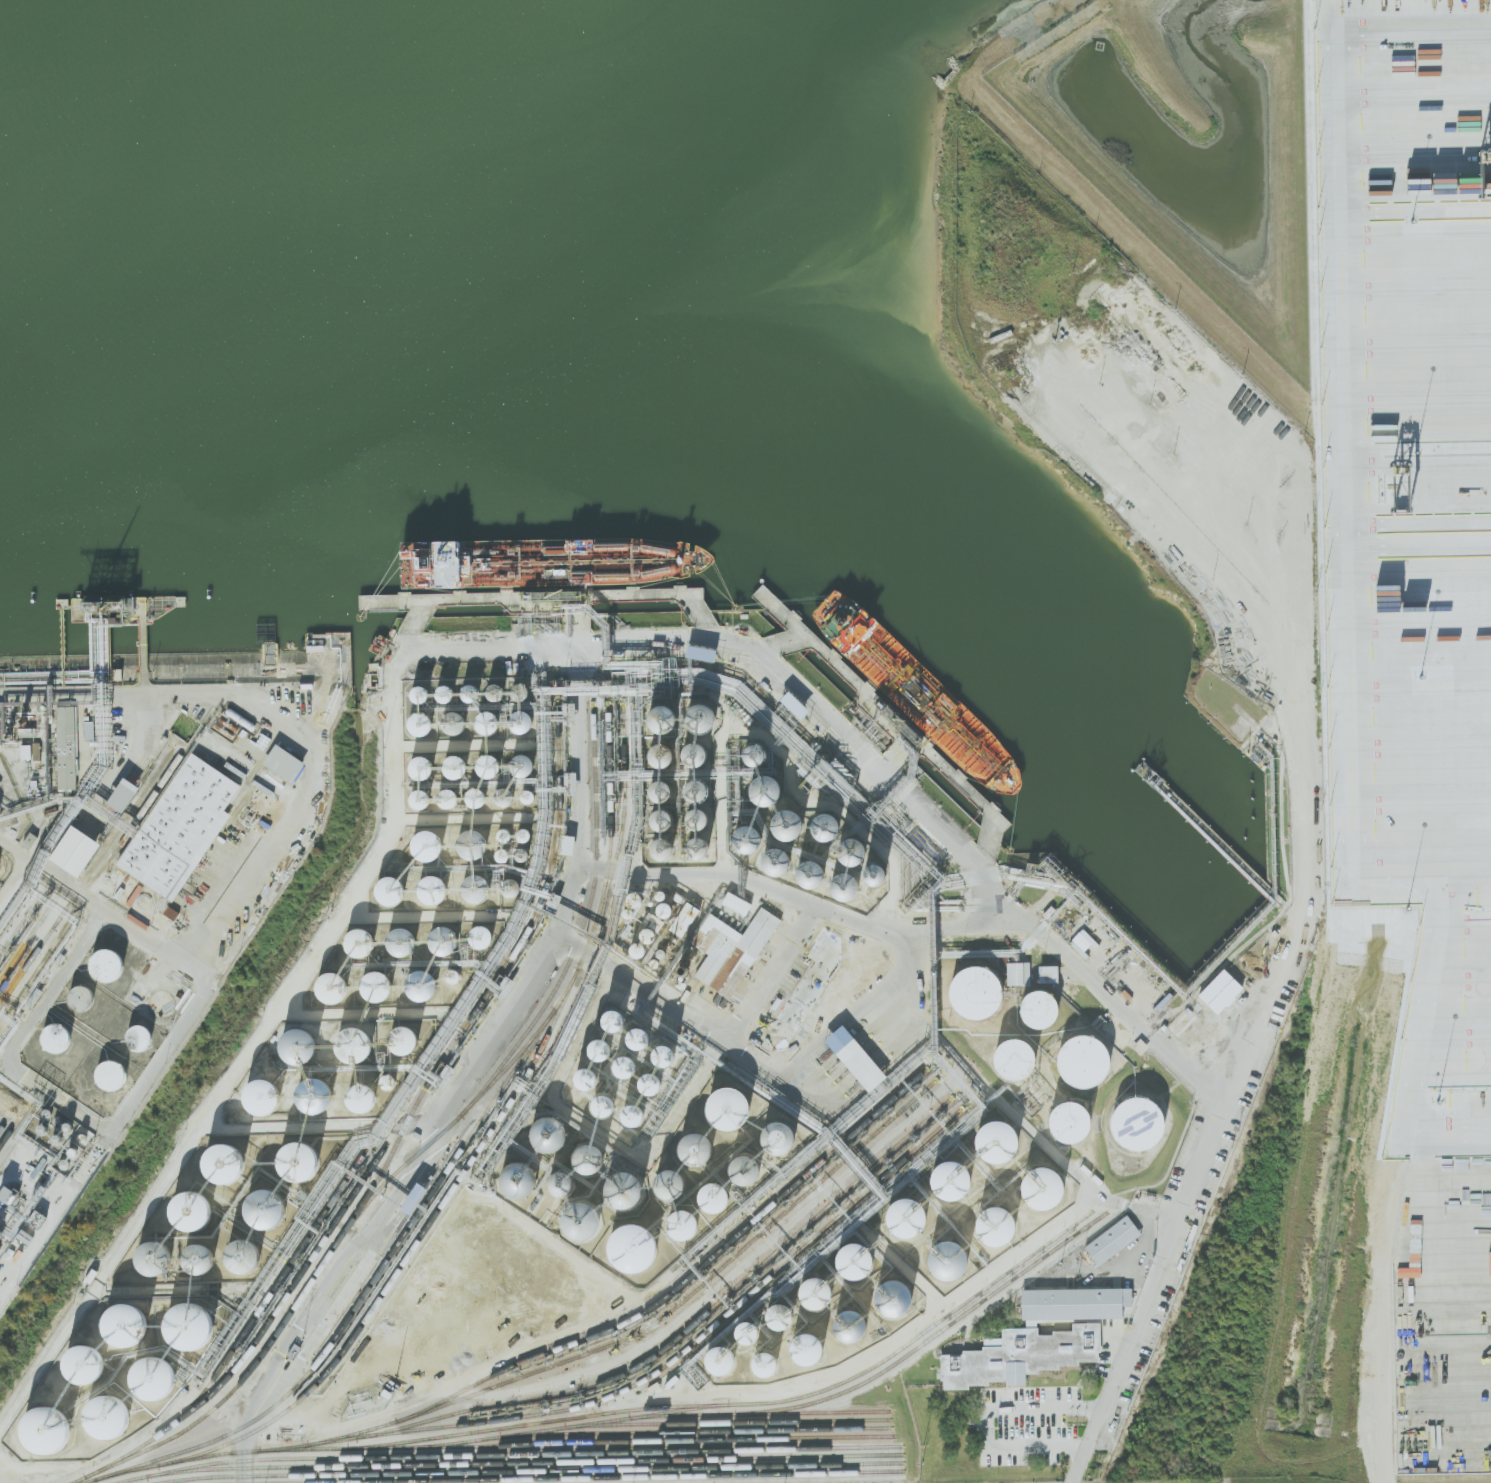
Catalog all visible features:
road: (1342, 531)
road: (406, 653)
building: (701, 653)
building: (524, 689)
storage tank: (524, 689)
building: (449, 690)
storage tank: (449, 690)
building: (474, 690)
storage tank: (474, 690)
building: (499, 690)
storage tank: (499, 690)
building: (423, 691)
storage tank: (423, 691)
building: (794, 705)
building: (708, 713)
storage tank: (708, 713)
building: (668, 714)
storage tank: (668, 714)
building: (524, 718)
storage tank: (524, 718)
building: (492, 719)
storage tank: (492, 719)
building: (458, 720)
storage tank: (458, 720)
building: (424, 721)
storage tank: (424, 721)
building: (0, 728)
building: (69, 747)
building: (667, 749)
storage tank: (667, 749)
building: (701, 749)
storage tank: (701, 749)
building: (748, 749)
storage tank: (748, 749)
building: (26, 752)
building: (284, 763)
building: (424, 763)
storage tank: (424, 763)
building: (458, 763)
storage tank: (458, 763)
building: (493, 763)
storage tank: (493, 763)
building: (526, 763)
storage tank: (526, 763)
building: (702, 785)
storage tank: (702, 785)
building: (757, 785)
storage tank: (757, 785)
building: (666, 786)
storage tank: (666, 786)
building: (126, 793)
building: (451, 795)
storage tank: (451, 795)
building: (507, 795)
storage tank: (507, 795)
building: (531, 795)
storage tank: (531, 795)
building: (423, 796)
storage tank: (423, 796)
building: (480, 796)
storage tank: (480, 796)
road: (1309, 806)
railway: (623, 813)
building: (703, 814)
storage tank: (703, 814)
building: (668, 815)
storage tank: (668, 815)
building: (779, 819)
storage tank: (779, 819)
building: (820, 822)
storage tank: (820, 822)
building: (183, 828)
building: (508, 834)
storage tank: (508, 834)
building: (528, 834)
storage tank: (528, 834)
building: (742, 835)
storage tank: (742, 835)
railway: (113, 837)
building: (29, 841)
building: (477, 842)
storage tank: (477, 842)
building: (703, 843)
storage tank: (703, 843)
building: (431, 844)
storage tank: (431, 844)
building: (667, 844)
storage tank: (667, 844)
building: (568, 845)
building: (845, 848)
storage tank: (845, 848)
building: (79, 850)
building: (526, 853)
storage tank: (526, 853)
building: (506, 854)
storage tank: (506, 854)
building: (772, 857)
storage tank: (772, 857)
building: (800, 867)
storage tank: (800, 867)
building: (869, 870)
storage tank: (869, 870)
road: (52, 873)
road: (14, 878)
railway: (91, 879)
building: (841, 884)
storage tank: (841, 884)
building: (515, 885)
storage tank: (515, 885)
building: (480, 887)
storage tank: (480, 887)
road: (247, 888)
building: (394, 888)
storage tank: (394, 888)
building: (436, 888)
storage tank: (436, 888)
building: (638, 898)
storage tank: (638, 898)
building: (669, 908)
storage tank: (669, 908)
building: (170, 913)
railway: (23, 919)
building: (689, 919)
road: (1019, 922)
building: (652, 934)
storage tank: (652, 934)
building: (485, 936)
storage tank: (485, 936)
railway: (30, 937)
building: (405, 939)
storage tank: (405, 939)
building: (447, 939)
storage tank: (447, 939)
building: (362, 941)
storage tank: (362, 941)
building: (642, 948)
storage tank: (642, 948)
building: (734, 950)
building: (108, 964)
storage tank: (108, 964)
building: (1019, 974)
building: (814, 983)
building: (380, 984)
storage tank: (380, 984)
building: (425, 985)
storage tank: (425, 985)
building: (334, 986)
storage tank: (334, 986)
road: (50, 990)
building: (981, 990)
storage tank: (981, 990)
building: (1220, 991)
building: (84, 997)
storage tank: (84, 997)
building: (1045, 1008)
storage tank: (1045, 1008)
building: (613, 1021)
road: (713, 1032)
road: (822, 1035)
building: (142, 1036)
storage tank: (142, 1036)
building: (312, 1036)
storage tank: (312, 1036)
building: (57, 1037)
storage tank: (57, 1037)
building: (368, 1037)
storage tank: (368, 1037)
building: (638, 1039)
building: (403, 1041)
building: (295, 1042)
building: (354, 1045)
building: (599, 1050)
building: (663, 1056)
building: (1011, 1057)
storage tank: (1011, 1057)
building: (855, 1058)
building: (1090, 1060)
storage tank: (1090, 1060)
railway: (510, 1064)
building: (112, 1074)
storage tank: (112, 1074)
building: (586, 1079)
building: (649, 1084)
building: (331, 1087)
storage tank: (331, 1087)
railway: (424, 1088)
building: (278, 1089)
storage tank: (278, 1089)
building: (315, 1096)
building: (262, 1097)
building: (361, 1099)
building: (603, 1107)
building: (734, 1107)
storage tank: (734, 1107)
road: (1000, 1108)
railway: (2, 1110)
building: (632, 1116)
building: (1065, 1119)
storage tank: (1065, 1119)
railway: (6, 1121)
building: (1144, 1122)
storage tank: (1144, 1122)
railway: (10, 1131)
building: (554, 1132)
storage tank: (554, 1132)
building: (784, 1136)
storage tank: (784, 1136)
road: (1448, 1136)
building: (995, 1139)
storage tank: (995, 1139)
railway: (431, 1142)
building: (702, 1147)
storage tank: (702, 1147)
railway: (391, 1157)
building: (587, 1158)
storage tank: (587, 1158)
building: (304, 1160)
storage tank: (304, 1160)
railway: (453, 1160)
building: (231, 1163)
storage tank: (231, 1163)
building: (751, 1168)
storage tank: (751, 1168)
road: (409, 1176)
building: (959, 1178)
storage tank: (959, 1178)
building: (523, 1179)
storage tank: (523, 1179)
building: (675, 1182)
storage tank: (675, 1182)
building: (614, 1183)
storage tank: (614, 1183)
building: (563, 1185)
storage tank: (563, 1185)
building: (1050, 1186)
storage tank: (1050, 1186)
building: (719, 1196)
storage tank: (719, 1196)
building: (411, 1202)
building: (270, 1209)
storage tank: (270, 1209)
building: (196, 1211)
storage tank: (196, 1211)
building: (914, 1216)
storage tank: (914, 1216)
building: (578, 1217)
storage tank: (578, 1217)
building: (688, 1223)
storage tank: (688, 1223)
building: (1004, 1225)
storage tank: (1004, 1225)
building: (1112, 1241)
building: (638, 1246)
storage tank: (638, 1246)
building: (242, 1256)
railway: (406, 1258)
building: (152, 1259)
building: (955, 1259)
storage tank: (955, 1259)
building: (198, 1260)
building: (861, 1260)
storage tank: (861, 1260)
railway: (692, 1292)
building: (821, 1293)
storage tank: (821, 1293)
building: (900, 1296)
storage tank: (900, 1296)
building: (1075, 1304)
road: (1386, 1309)
building: (785, 1316)
storage tank: (785, 1316)
building: (1119, 1316)
railway: (627, 1321)
building: (128, 1324)
storage tank: (128, 1324)
building: (189, 1325)
storage tank: (189, 1325)
building: (856, 1325)
storage tank: (856, 1325)
railway: (687, 1330)
building: (753, 1332)
storage tank: (753, 1332)
railway: (239, 1338)
building: (813, 1348)
storage tank: (813, 1348)
railway: (674, 1358)
building: (726, 1359)
storage tank: (726, 1359)
railway: (881, 1362)
building: (770, 1363)
storage tank: (770, 1363)
building: (84, 1366)
storage tank: (84, 1366)
building: (153, 1378)
storage tank: (153, 1378)
road: (1015, 1390)
road: (1065, 1392)
railway: (813, 1412)
building: (103, 1417)
storage tank: (103, 1417)
railway: (622, 1419)
railway: (538, 1422)
railway: (727, 1422)
road: (1021, 1426)
railway: (695, 1430)
building: (47, 1431)
storage tank: (47, 1431)
railway: (646, 1441)
railway: (524, 1453)
railway: (509, 1462)
railway: (530, 1470)
railway: (599, 1477)

